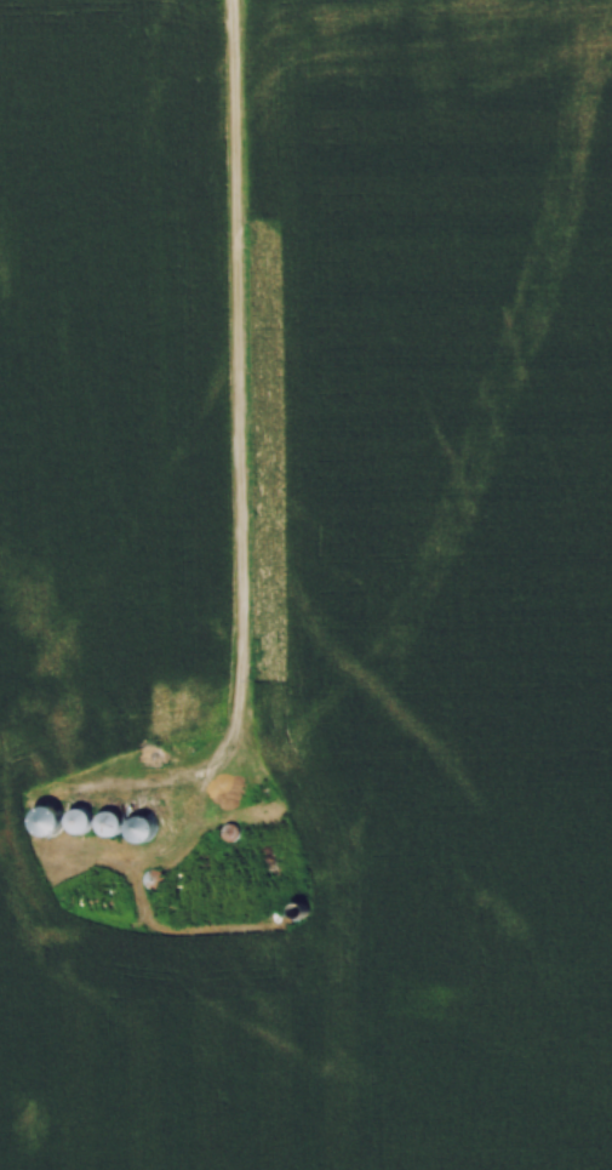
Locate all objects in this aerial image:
road: (239, 413)

